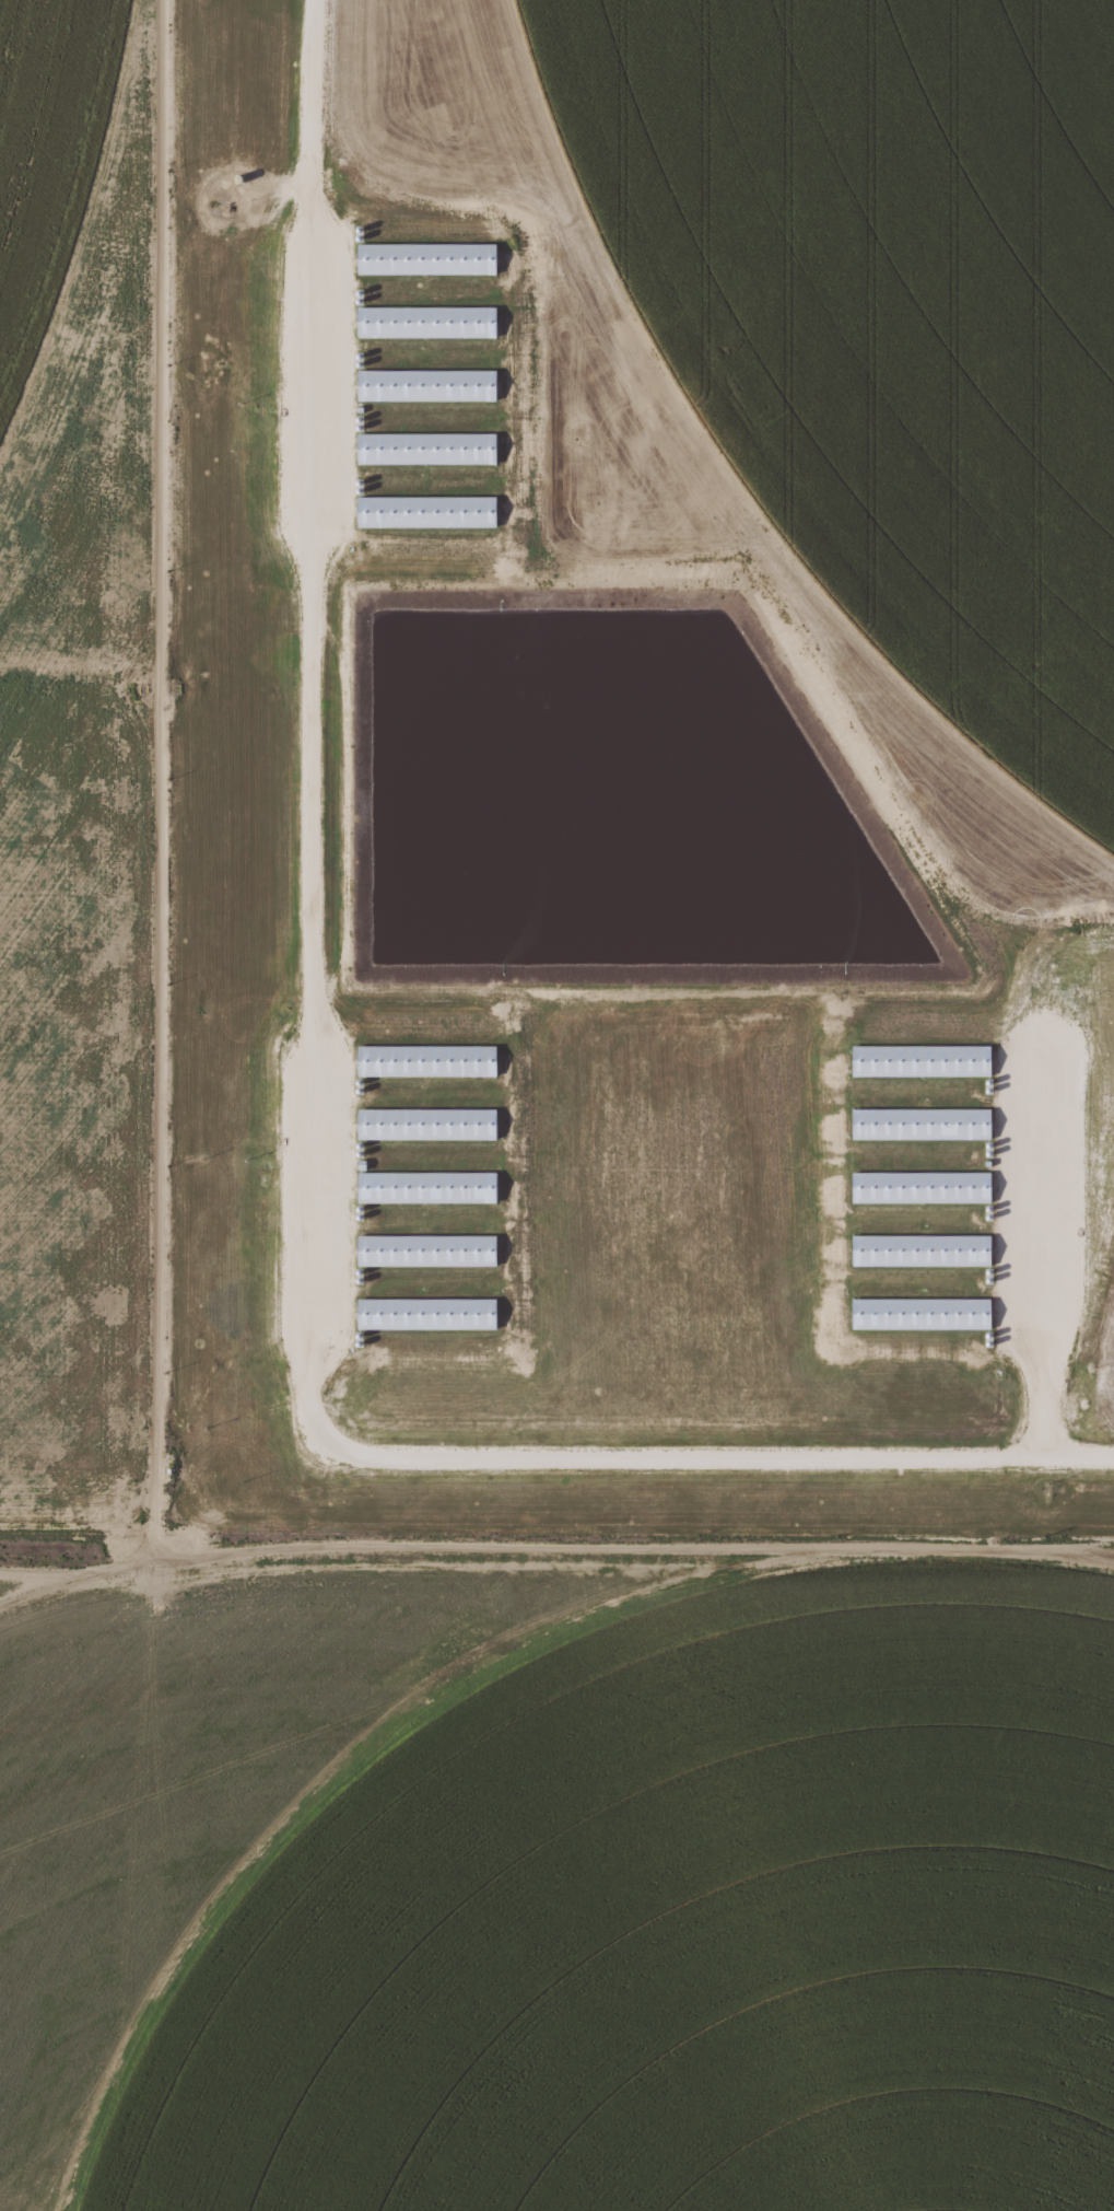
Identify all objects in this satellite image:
building: (425, 258)
building: (424, 322)
building: (424, 385)
building: (424, 449)
building: (424, 512)
building: (425, 1060)
building: (919, 1060)
building: (919, 1124)
building: (425, 1187)
building: (919, 1187)
building: (424, 1250)
building: (919, 1250)
building: (919, 1314)

